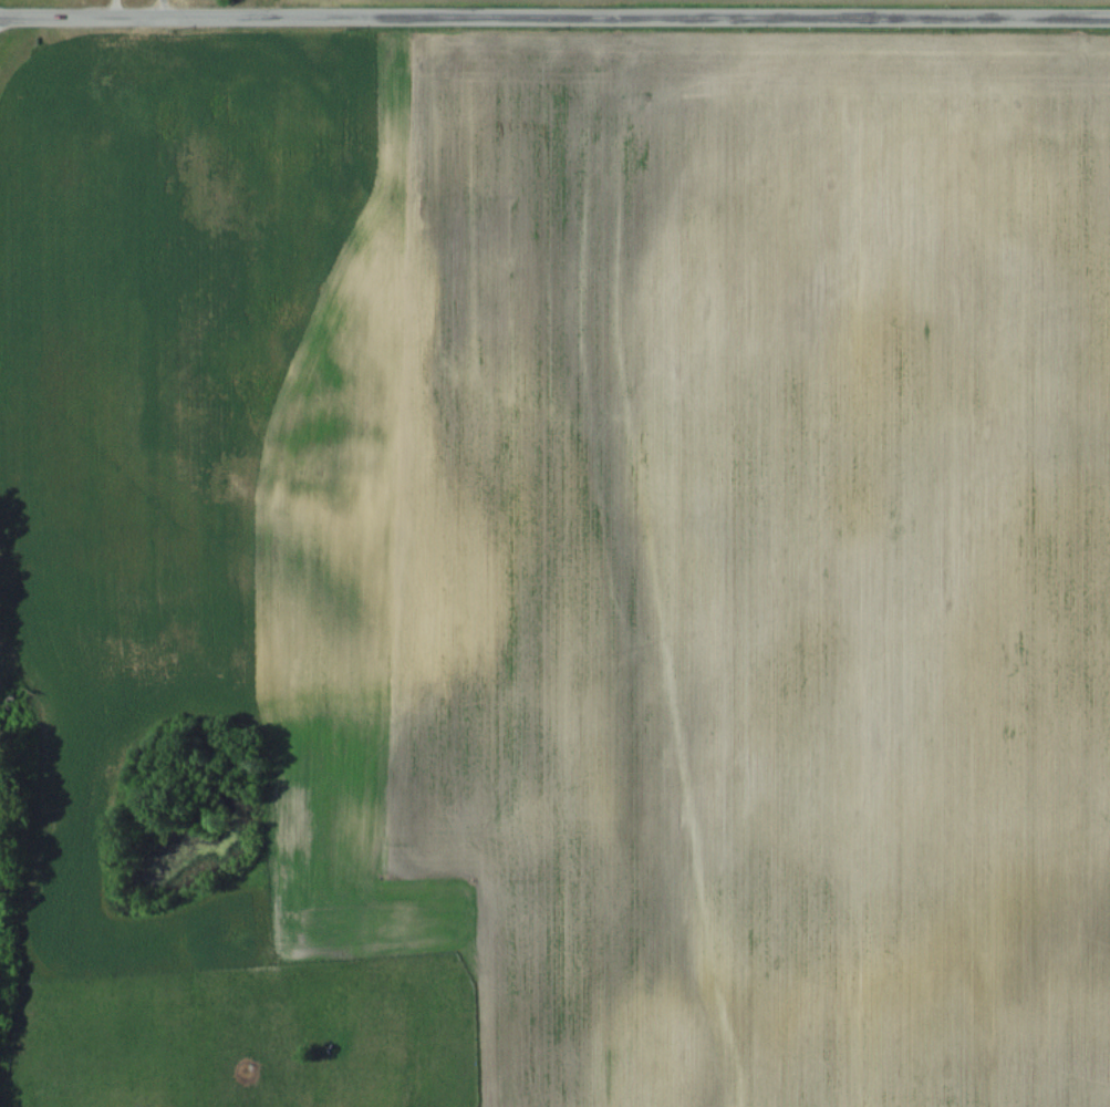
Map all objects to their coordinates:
road: (554, 14)

